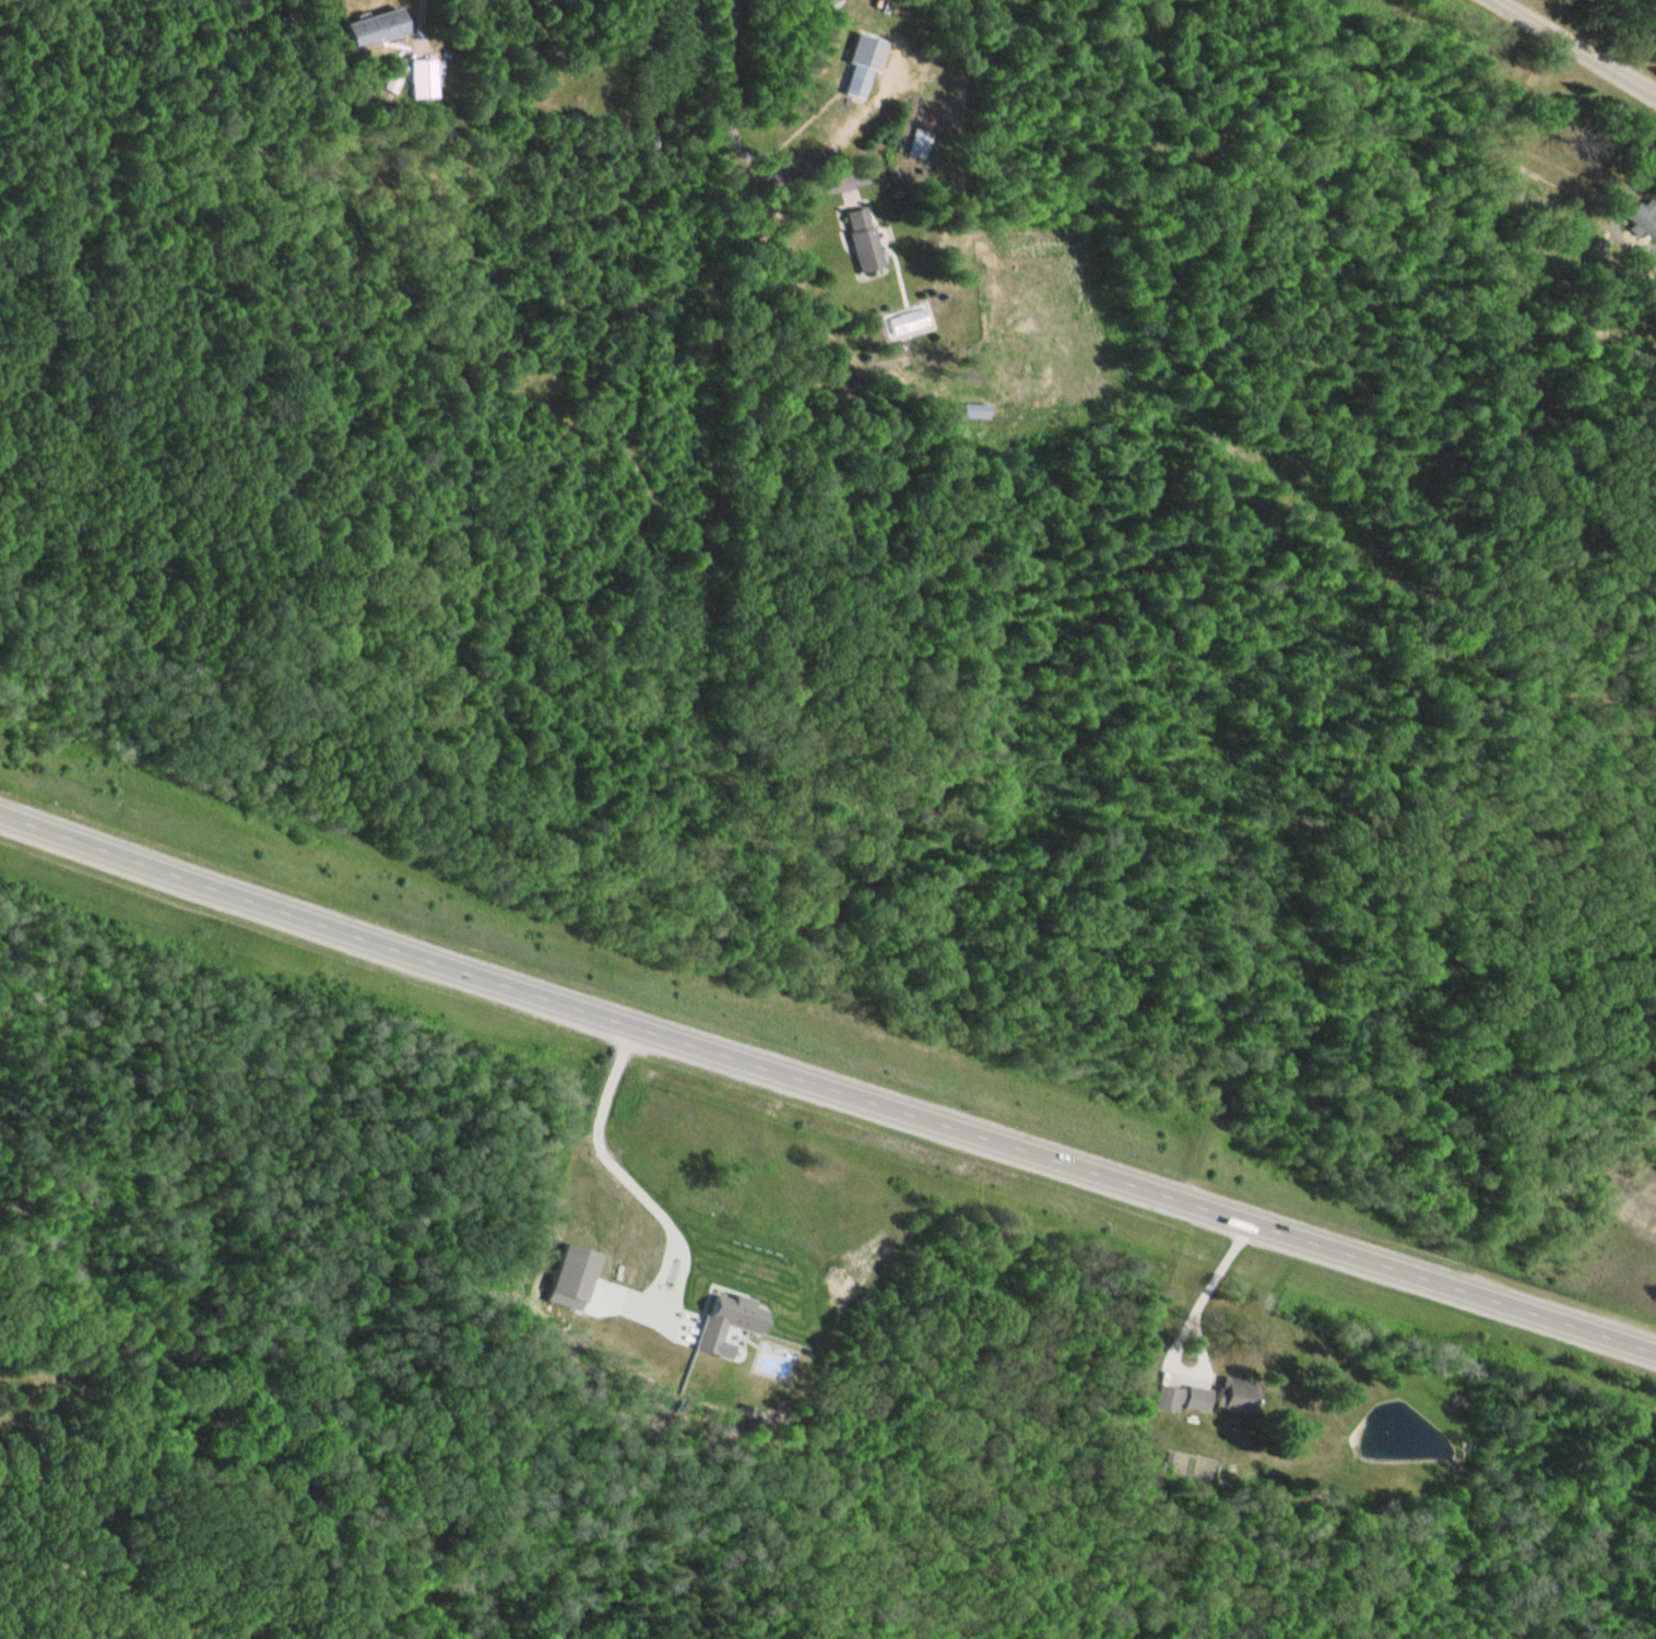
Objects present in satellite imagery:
building: (369, 29)
road: (1577, 44)
building: (418, 79)
building: (859, 82)
building: (1642, 218)
building: (863, 241)
road: (827, 1086)
building: (1169, 1381)
building: (1286, 1441)

